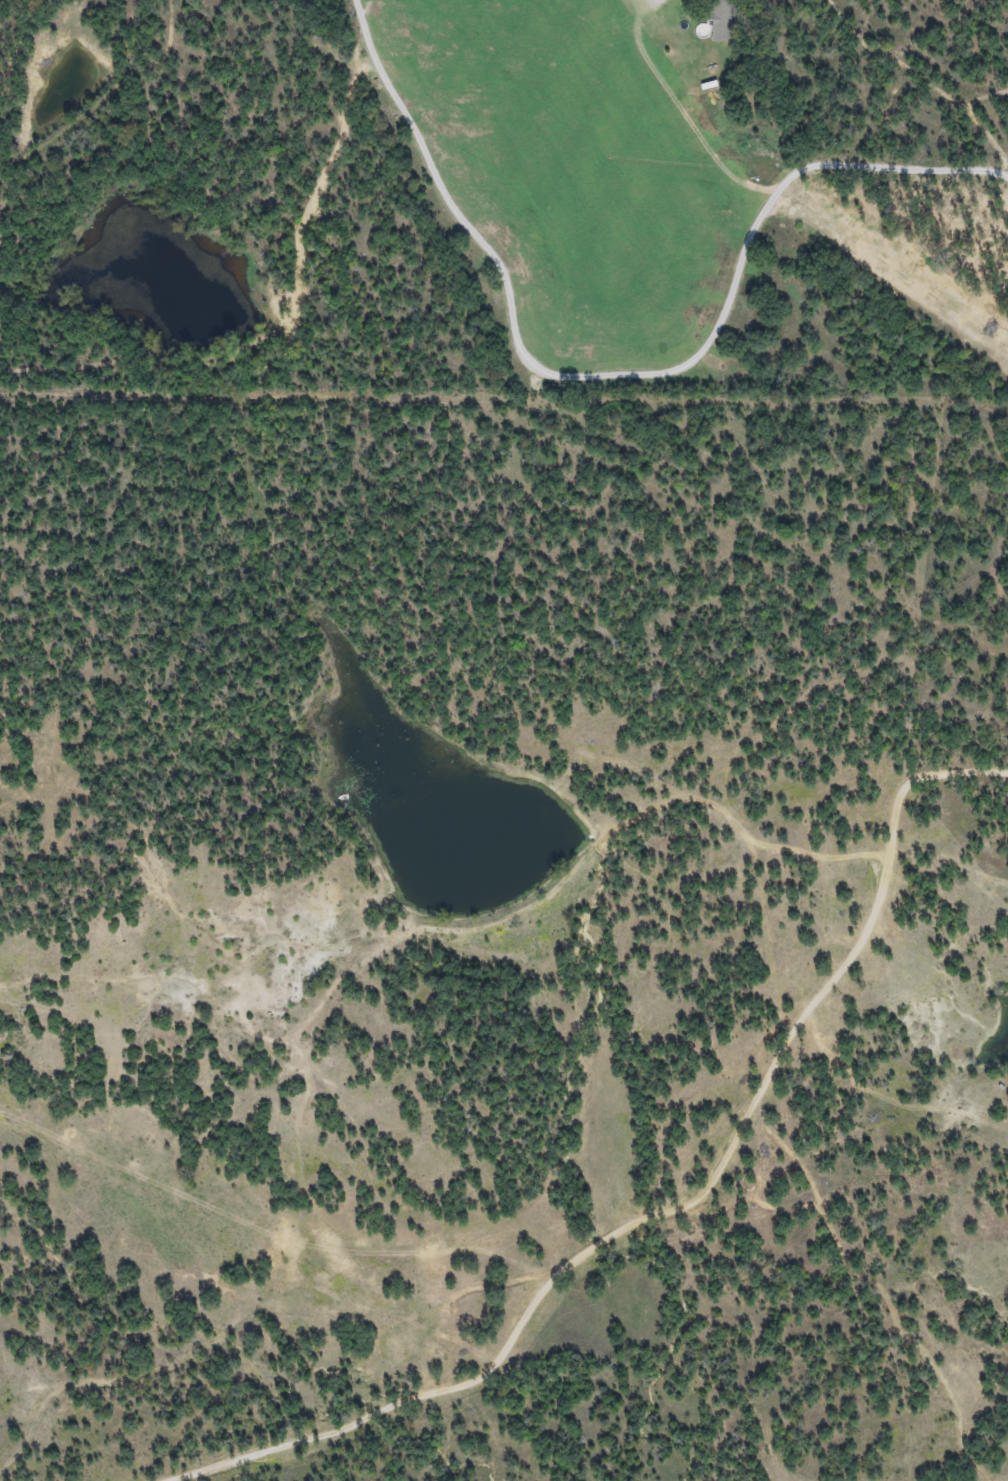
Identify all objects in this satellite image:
building: (720, 20)
road: (683, 111)
road: (620, 370)

